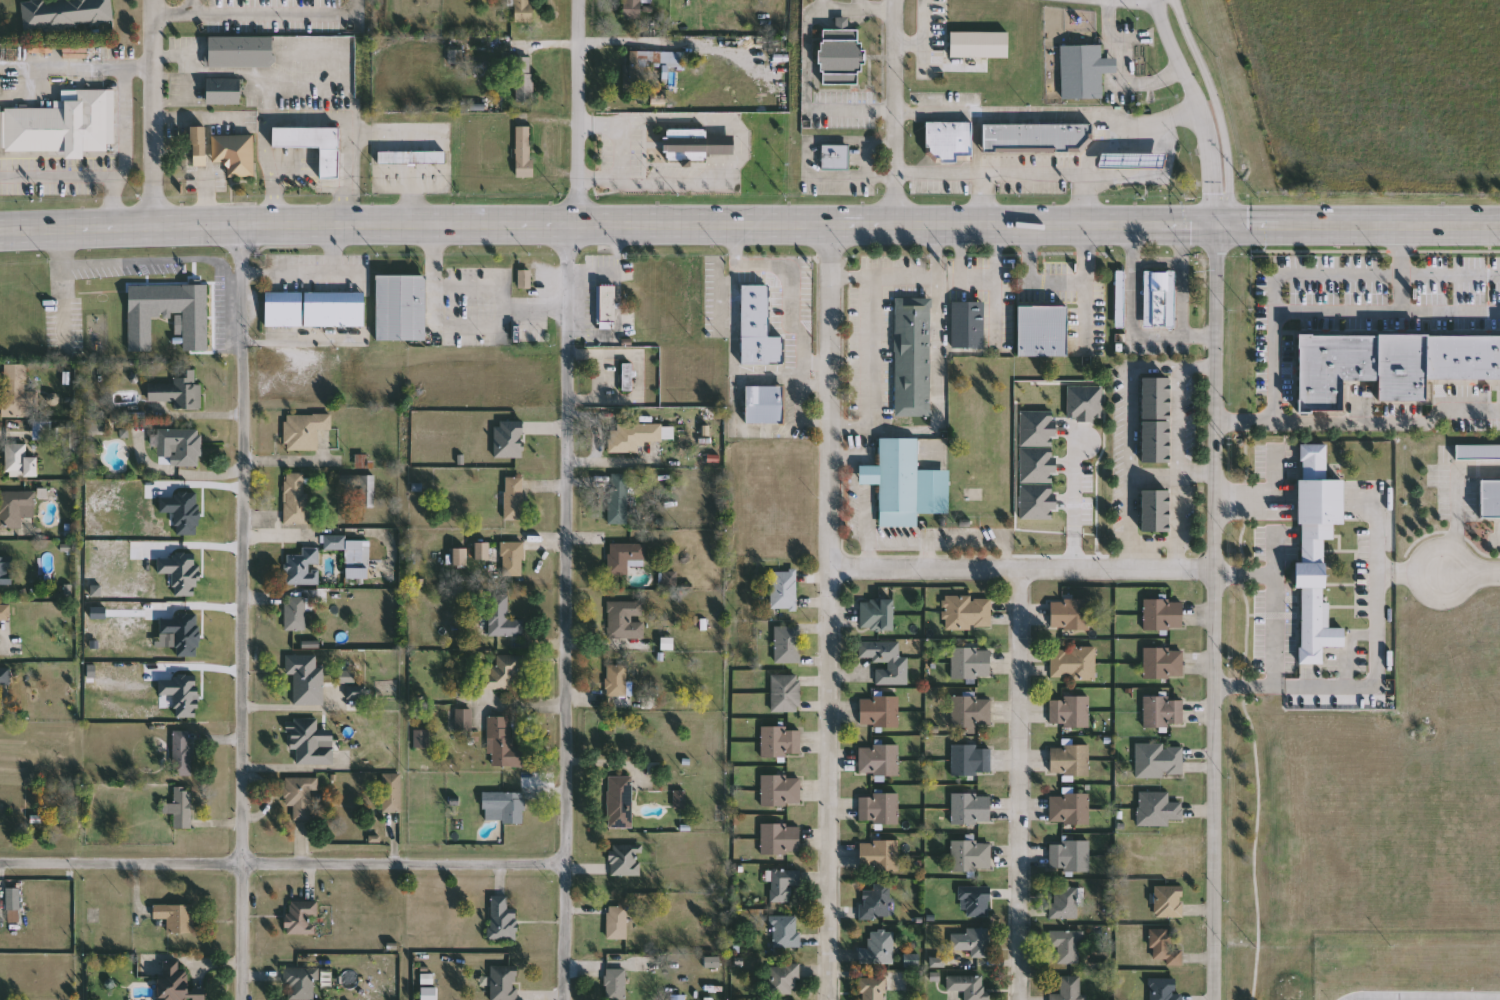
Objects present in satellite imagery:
road: (193, 7)
building: (633, 9)
building: (523, 11)
building: (67, 13)
road: (258, 13)
road: (587, 41)
building: (977, 41)
road: (651, 43)
building: (240, 52)
building: (841, 55)
road: (189, 60)
road: (62, 65)
building: (1082, 69)
road: (1121, 70)
building: (638, 71)
building: (524, 79)
road: (326, 86)
building: (222, 91)
road: (171, 101)
road: (1196, 101)
road: (1216, 101)
road: (123, 109)
road: (577, 111)
road: (897, 111)
road: (153, 113)
road: (1049, 115)
road: (304, 117)
building: (0, 121)
building: (64, 124)
building: (1035, 136)
building: (948, 139)
building: (694, 143)
building: (198, 145)
road: (208, 145)
building: (312, 145)
road: (737, 147)
building: (633, 149)
building: (524, 151)
building: (235, 153)
building: (835, 156)
building: (411, 157)
road: (868, 157)
road: (1061, 175)
road: (82, 178)
road: (984, 200)
road: (1080, 201)
road: (1220, 217)
road: (749, 224)
traffic signals: (1220, 227)
road: (1134, 242)
road: (1185, 243)
road: (1400, 250)
road: (1159, 259)
road: (154, 267)
road: (310, 271)
road: (349, 271)
road: (928, 272)
road: (1318, 274)
building: (525, 278)
road: (1053, 282)
road: (59, 292)
road: (1184, 296)
building: (1118, 297)
building: (1158, 298)
building: (607, 304)
building: (400, 307)
building: (315, 310)
building: (168, 314)
road: (1386, 314)
road: (469, 325)
building: (968, 325)
building: (758, 328)
building: (1042, 331)
road: (1140, 332)
road: (340, 341)
road: (874, 350)
building: (913, 357)
building: (1388, 364)
building: (628, 377)
road: (936, 381)
building: (14, 390)
building: (179, 391)
building: (1083, 401)
building: (764, 404)
building: (1155, 420)
road: (1359, 420)
road: (1127, 426)
building: (1034, 427)
building: (305, 431)
building: (634, 437)
building: (180, 447)
building: (1478, 452)
road: (840, 455)
building: (20, 461)
building: (1034, 464)
road: (854, 470)
road: (1172, 477)
building: (905, 484)
building: (368, 491)
building: (515, 496)
building: (296, 498)
building: (619, 499)
building: (1490, 499)
building: (1034, 501)
road: (1456, 501)
road: (1073, 505)
building: (14, 507)
building: (1155, 511)
road: (1374, 541)
road: (920, 543)
building: (351, 549)
building: (1315, 550)
building: (624, 556)
road: (866, 556)
road: (926, 556)
building: (512, 559)
building: (304, 567)
building: (6, 571)
road: (1023, 571)
road: (1417, 571)
road: (1470, 571)
road: (1244, 574)
building: (784, 590)
road: (565, 611)
road: (830, 611)
building: (5, 612)
road: (244, 612)
building: (295, 613)
building: (969, 613)
road: (1216, 613)
building: (876, 614)
building: (1071, 614)
building: (1163, 614)
building: (503, 617)
building: (626, 620)
road: (1272, 631)
building: (788, 645)
building: (971, 663)
building: (1073, 663)
building: (1163, 663)
building: (898, 665)
building: (502, 672)
building: (5, 676)
building: (306, 678)
building: (617, 680)
road: (1373, 681)
building: (356, 691)
building: (786, 693)
building: (879, 711)
building: (971, 711)
building: (1070, 711)
building: (1163, 711)
building: (463, 720)
building: (422, 738)
building: (308, 742)
building: (781, 742)
building: (502, 743)
building: (182, 753)
building: (971, 759)
building: (1070, 759)
building: (879, 760)
building: (1159, 760)
road: (1019, 785)
building: (781, 790)
building: (392, 793)
building: (301, 797)
building: (621, 802)
building: (504, 807)
building: (181, 808)
building: (879, 809)
building: (971, 809)
building: (1070, 809)
building: (1157, 809)
building: (781, 839)
building: (971, 856)
building: (1070, 856)
building: (879, 857)
building: (626, 860)
road: (283, 866)
building: (784, 884)
building: (13, 899)
building: (875, 902)
building: (976, 902)
building: (1065, 902)
building: (1168, 902)
building: (176, 918)
building: (302, 918)
building: (503, 919)
building: (618, 923)
building: (786, 931)
building: (972, 943)
building: (1067, 946)
building: (1165, 947)
building: (878, 949)
building: (783, 980)
building: (302, 982)
building: (176, 983)
building: (504, 983)
building: (616, 984)
building: (968, 986)
building: (873, 989)
building: (1070, 989)
building: (1163, 989)
road: (1417, 995)

